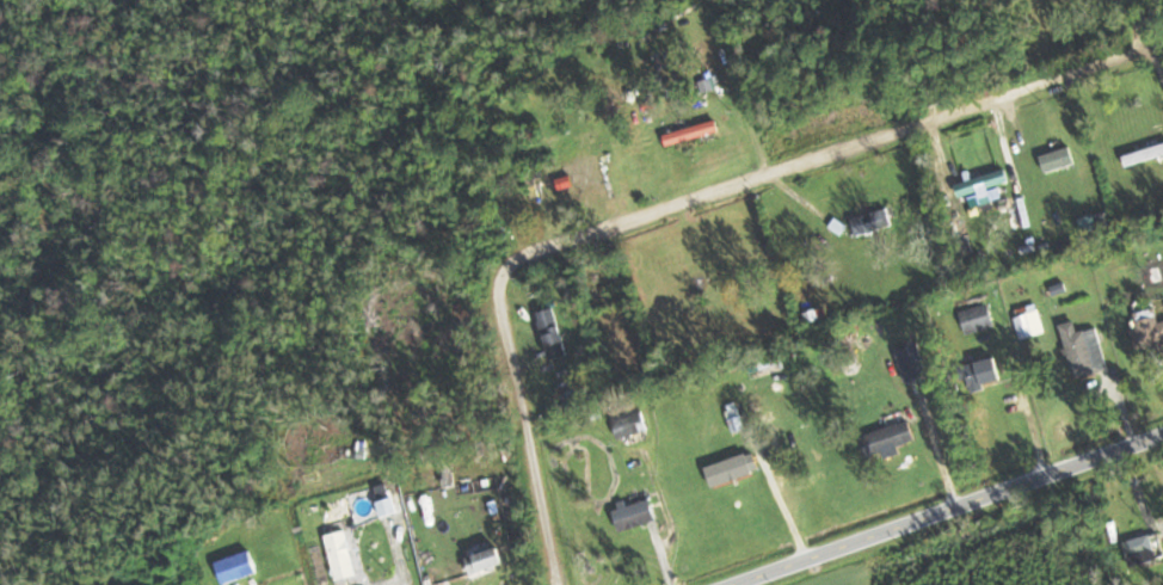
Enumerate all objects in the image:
road: (1161, 5)
building: (688, 133)
building: (1144, 150)
building: (1056, 159)
building: (570, 178)
building: (980, 183)
road: (669, 208)
building: (870, 221)
road: (875, 222)
building: (974, 319)
building: (1027, 324)
building: (1145, 328)
building: (548, 332)
building: (1081, 350)
building: (909, 363)
building: (979, 372)
building: (626, 418)
building: (885, 437)
building: (725, 466)
building: (384, 500)
road: (947, 511)
building: (630, 516)
building: (1149, 548)
building: (338, 554)
building: (481, 560)

